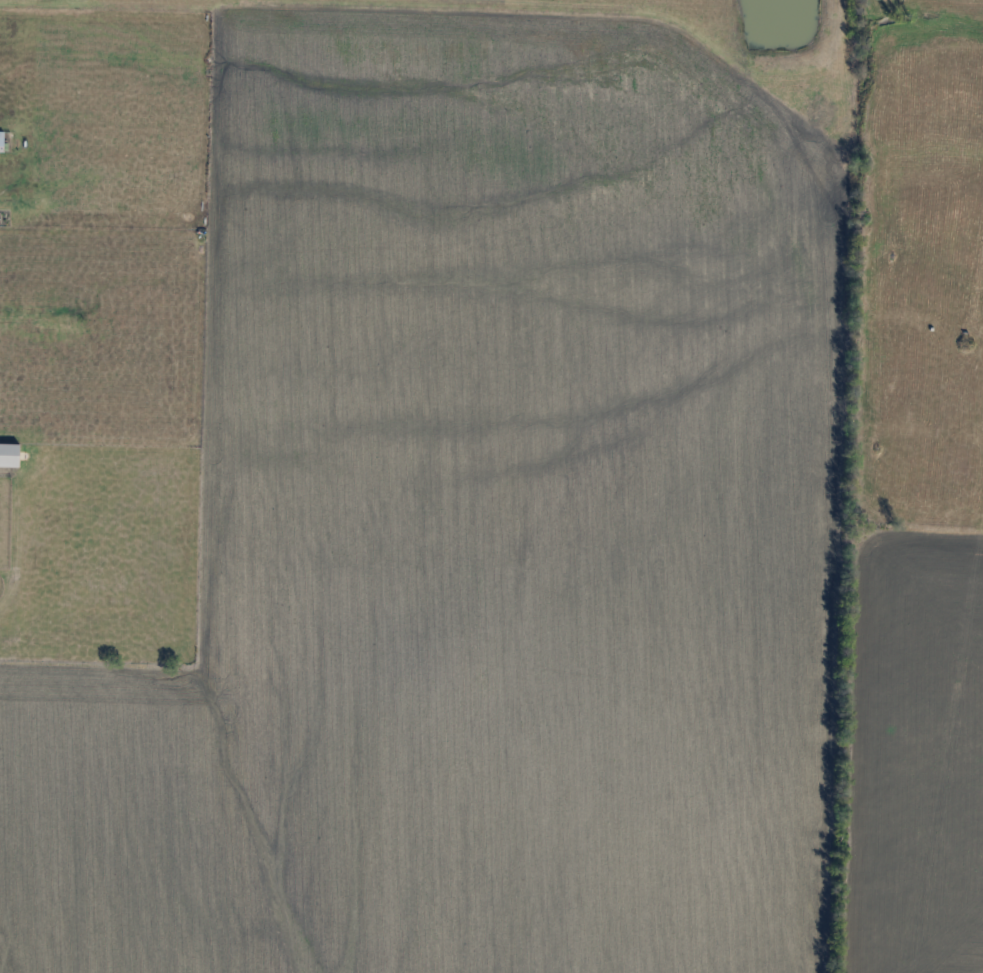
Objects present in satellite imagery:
building: (1, 141)
building: (8, 455)

